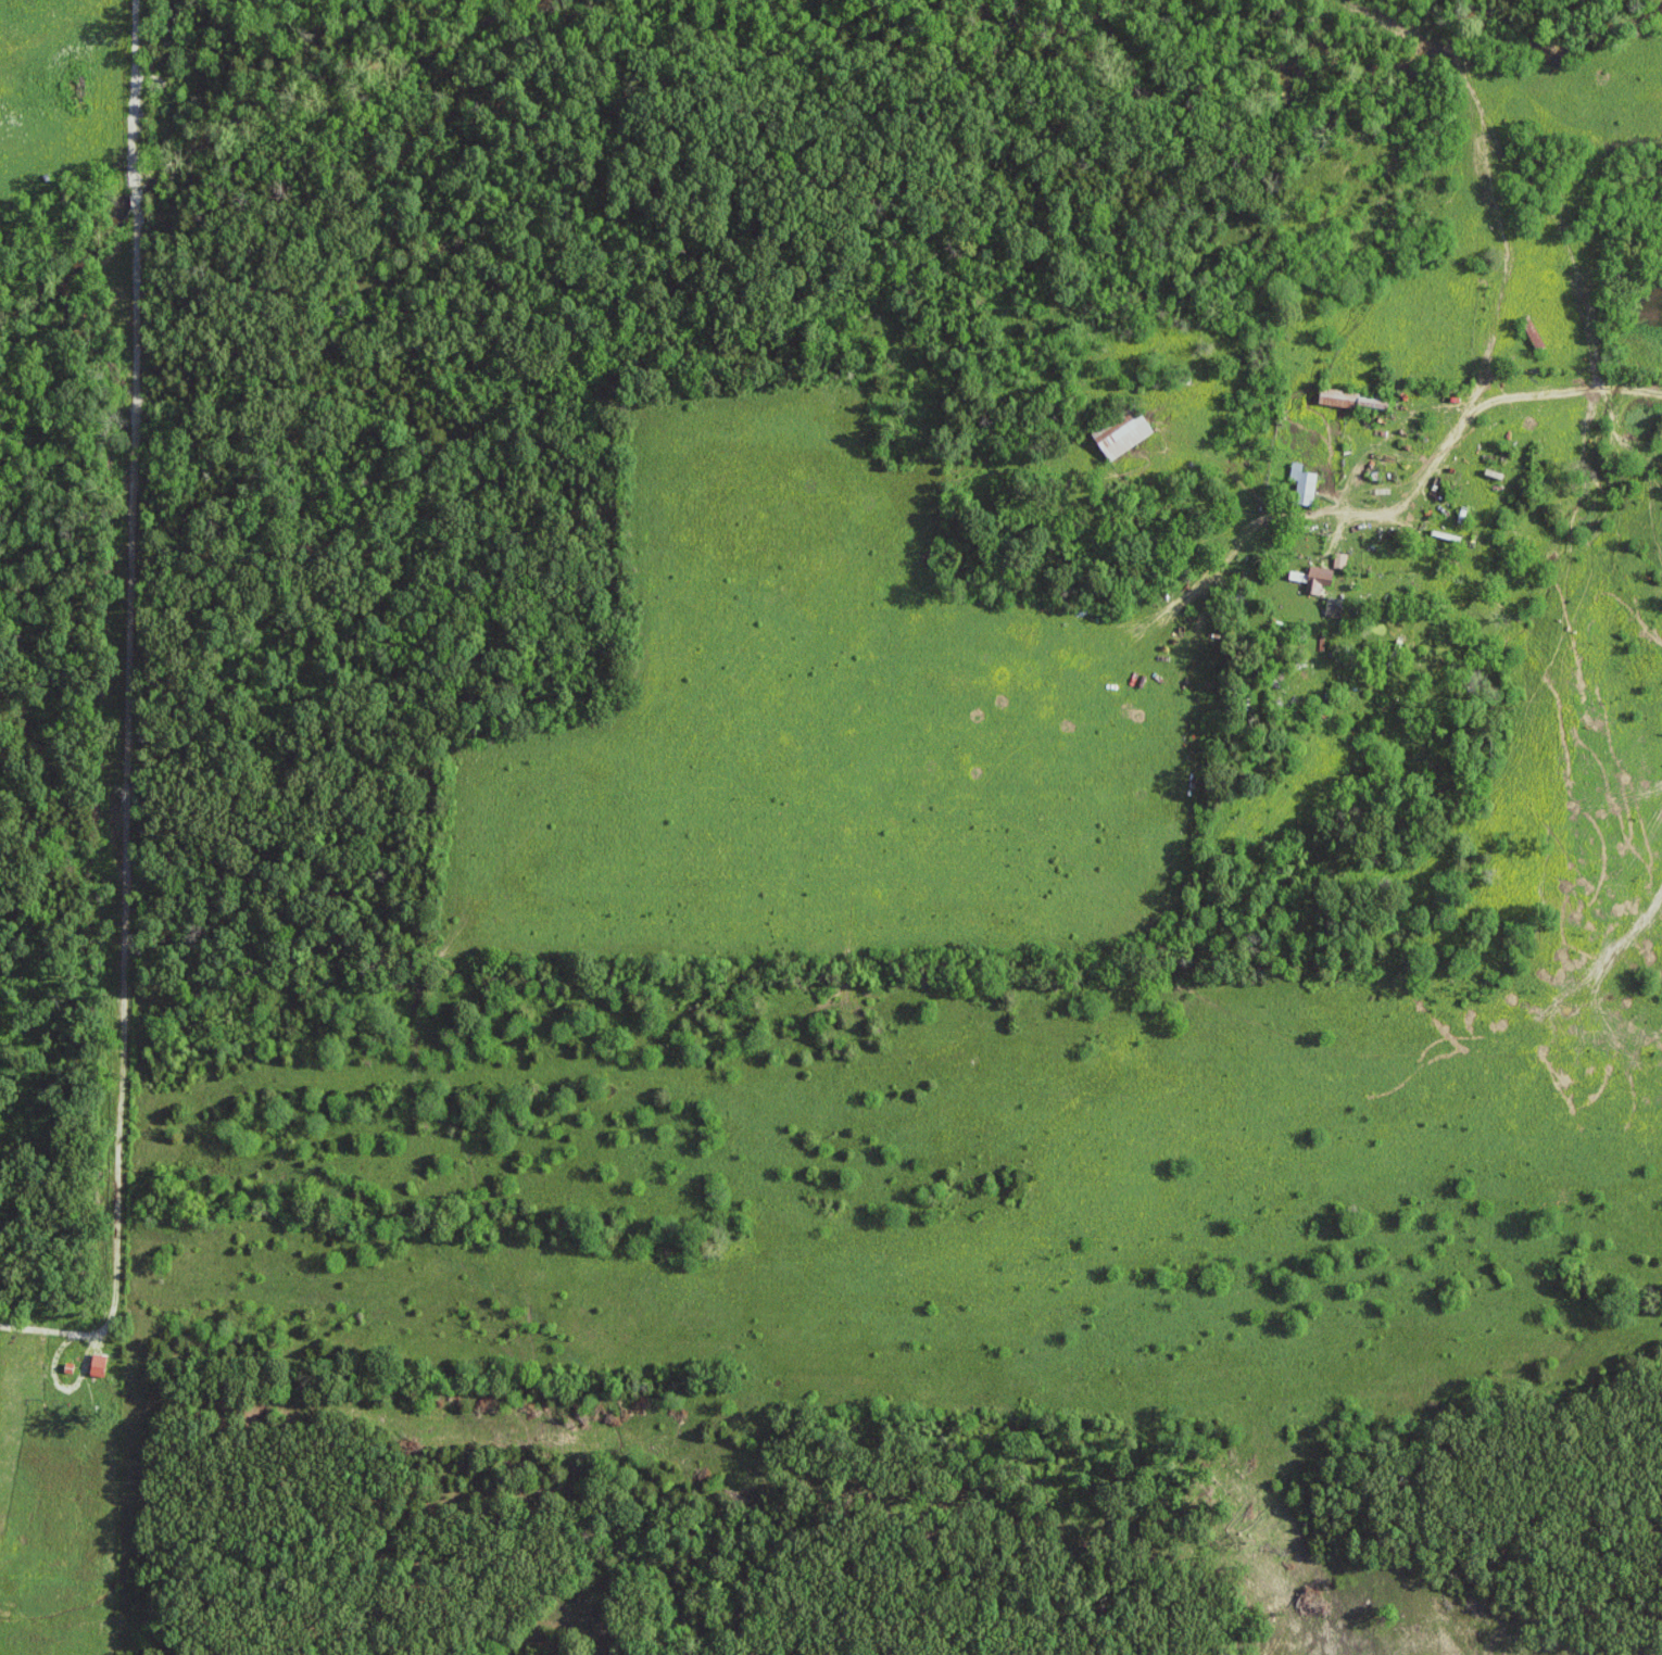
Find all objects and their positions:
road: (1386, 434)
building: (1124, 437)
road: (1444, 460)
building: (1305, 485)
building: (1342, 563)
road: (126, 660)
building: (100, 1367)

